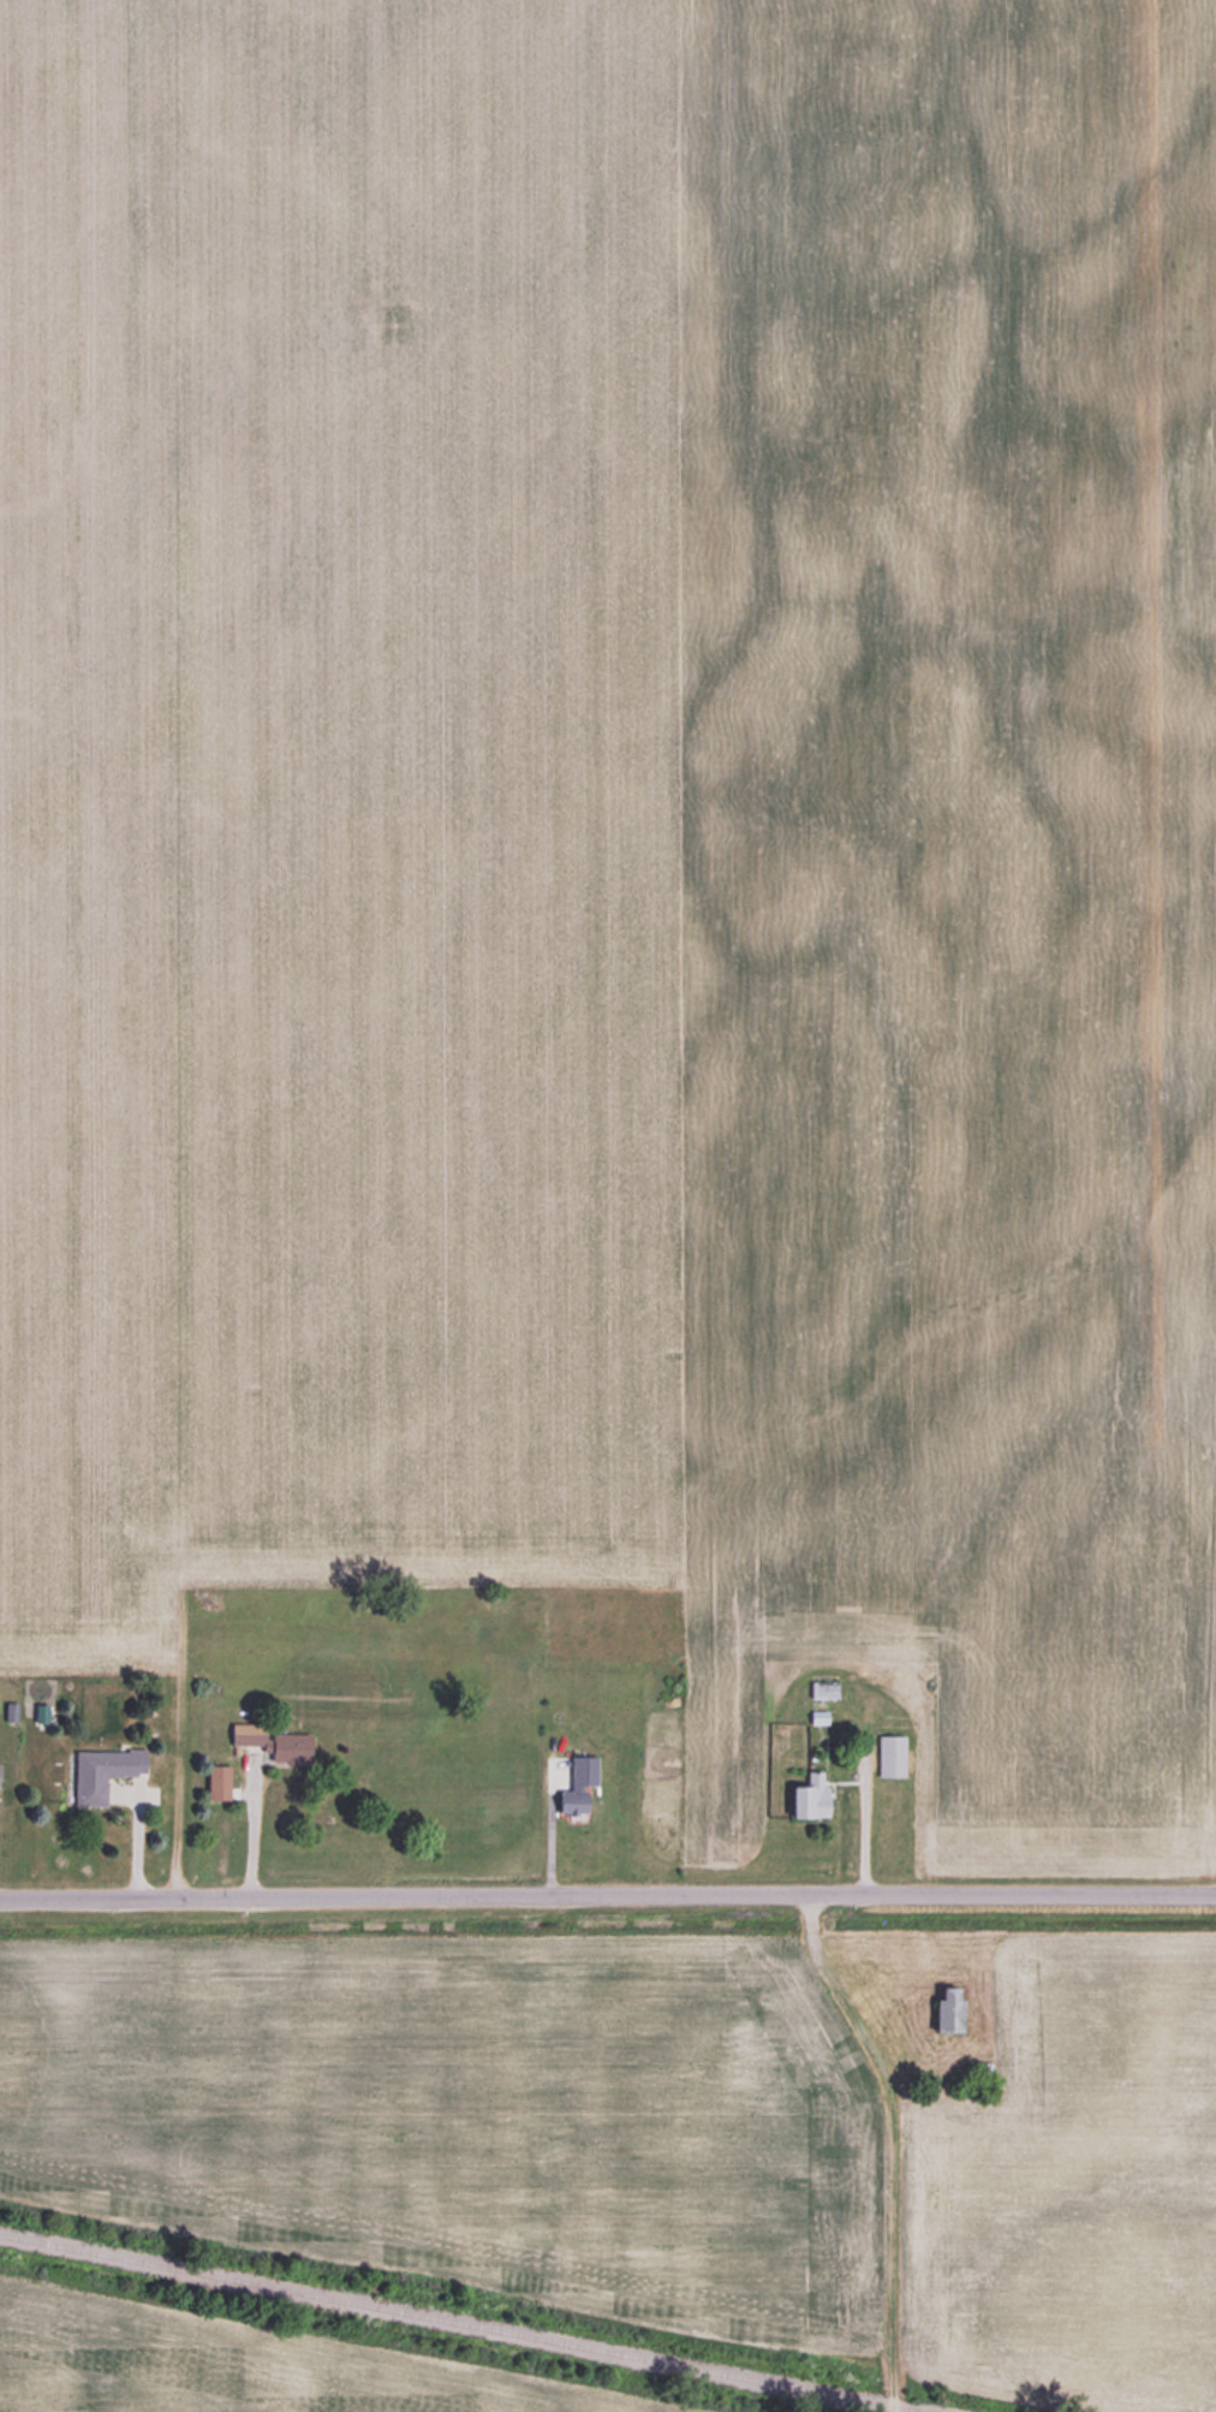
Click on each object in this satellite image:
building: (549, 1733)
building: (270, 1742)
building: (889, 1755)
building: (579, 1764)
building: (101, 1771)
building: (215, 1782)
building: (807, 1796)
building: (568, 1799)
road: (857, 1824)
road: (245, 1831)
road: (608, 1903)
building: (944, 2009)
railway: (463, 2322)

